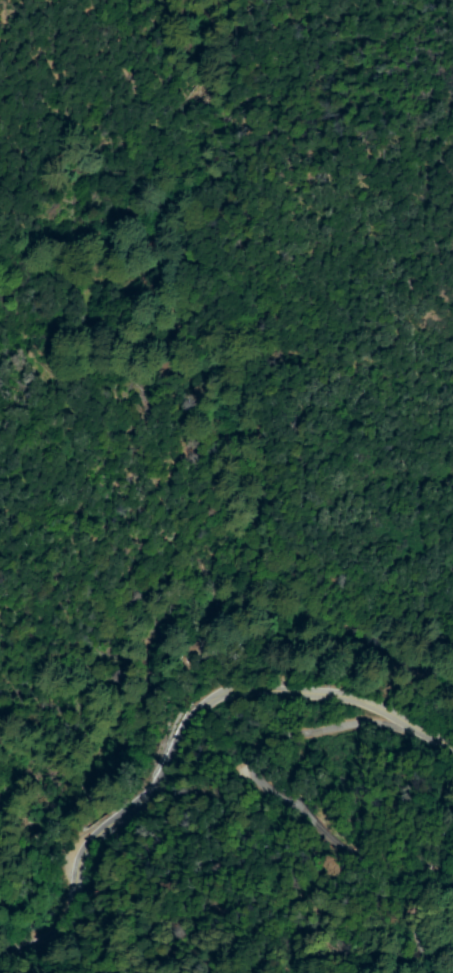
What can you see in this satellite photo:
building: (330, 676)
road: (182, 731)

